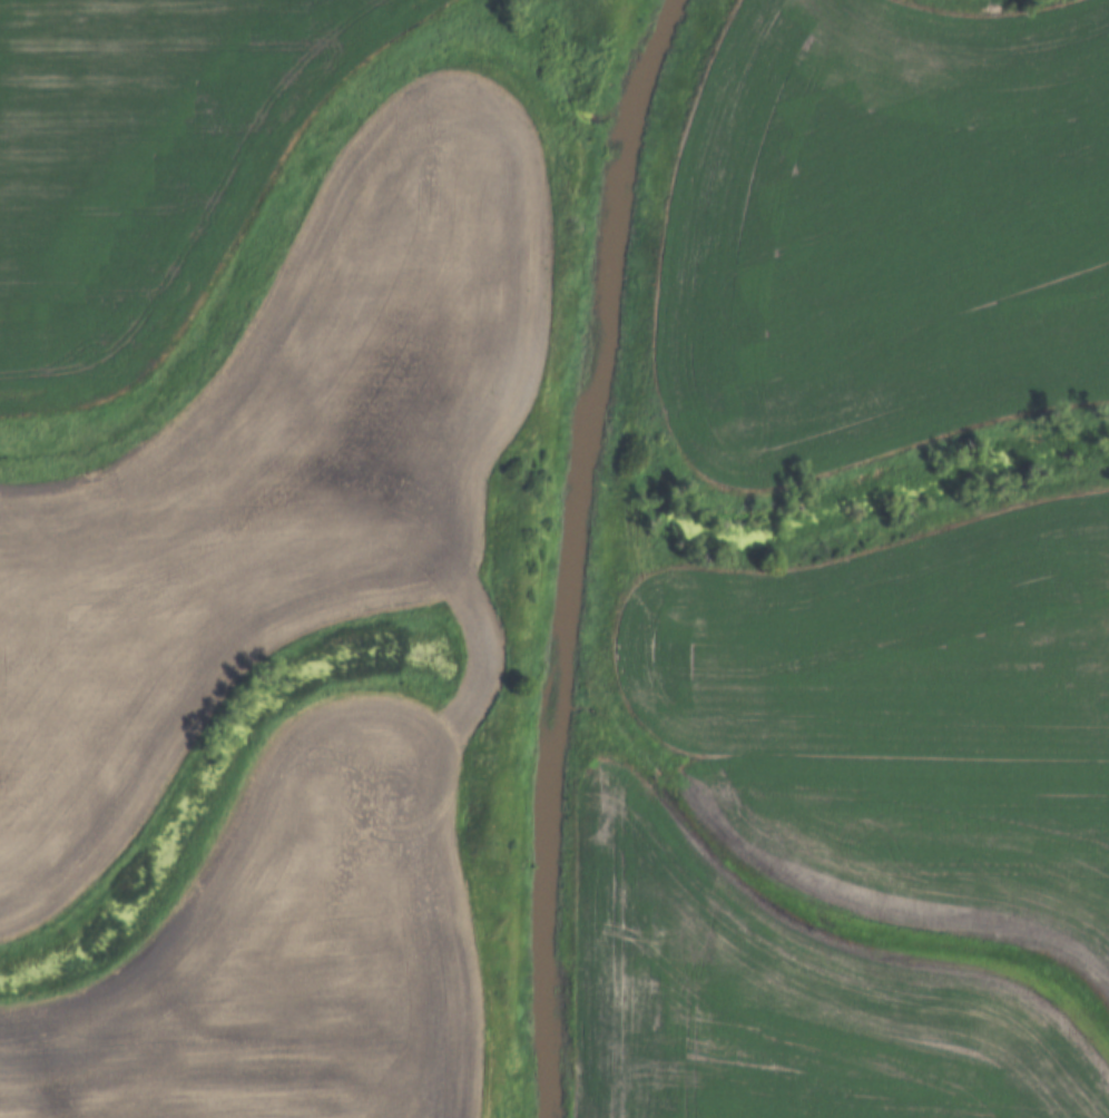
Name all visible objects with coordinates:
crop: (140, 165)
crop: (884, 231)
crop: (271, 482)
crop: (889, 645)
crop: (931, 827)
crop: (297, 954)
crop: (779, 1003)

